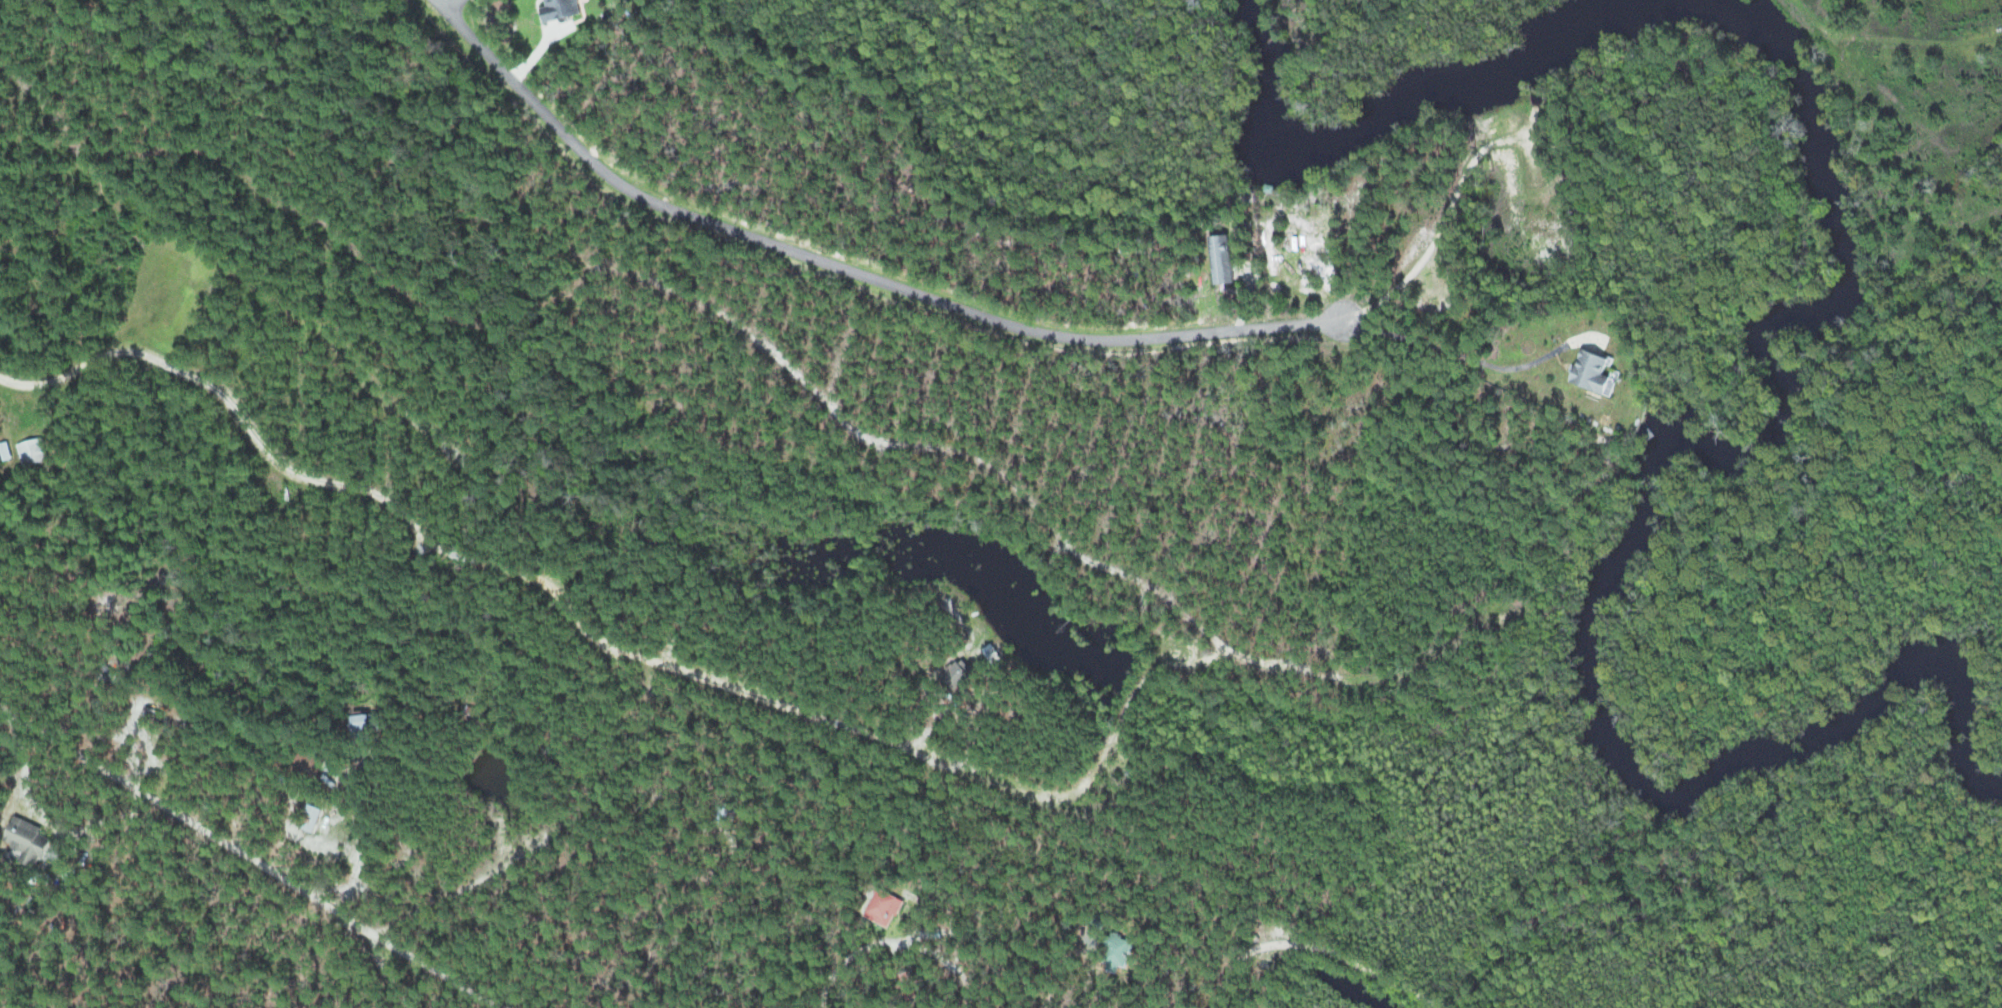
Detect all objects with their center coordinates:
road: (451, 8)
building: (569, 9)
building: (1228, 259)
road: (847, 267)
building: (1583, 371)
building: (36, 451)
building: (1000, 651)
building: (967, 674)
building: (155, 713)
building: (482, 716)
building: (374, 720)
building: (310, 763)
road: (31, 797)
building: (731, 812)
building: (314, 816)
building: (32, 839)
road: (222, 840)
road: (479, 880)
building: (891, 907)
building: (1125, 951)
road: (1317, 953)
road: (433, 968)

